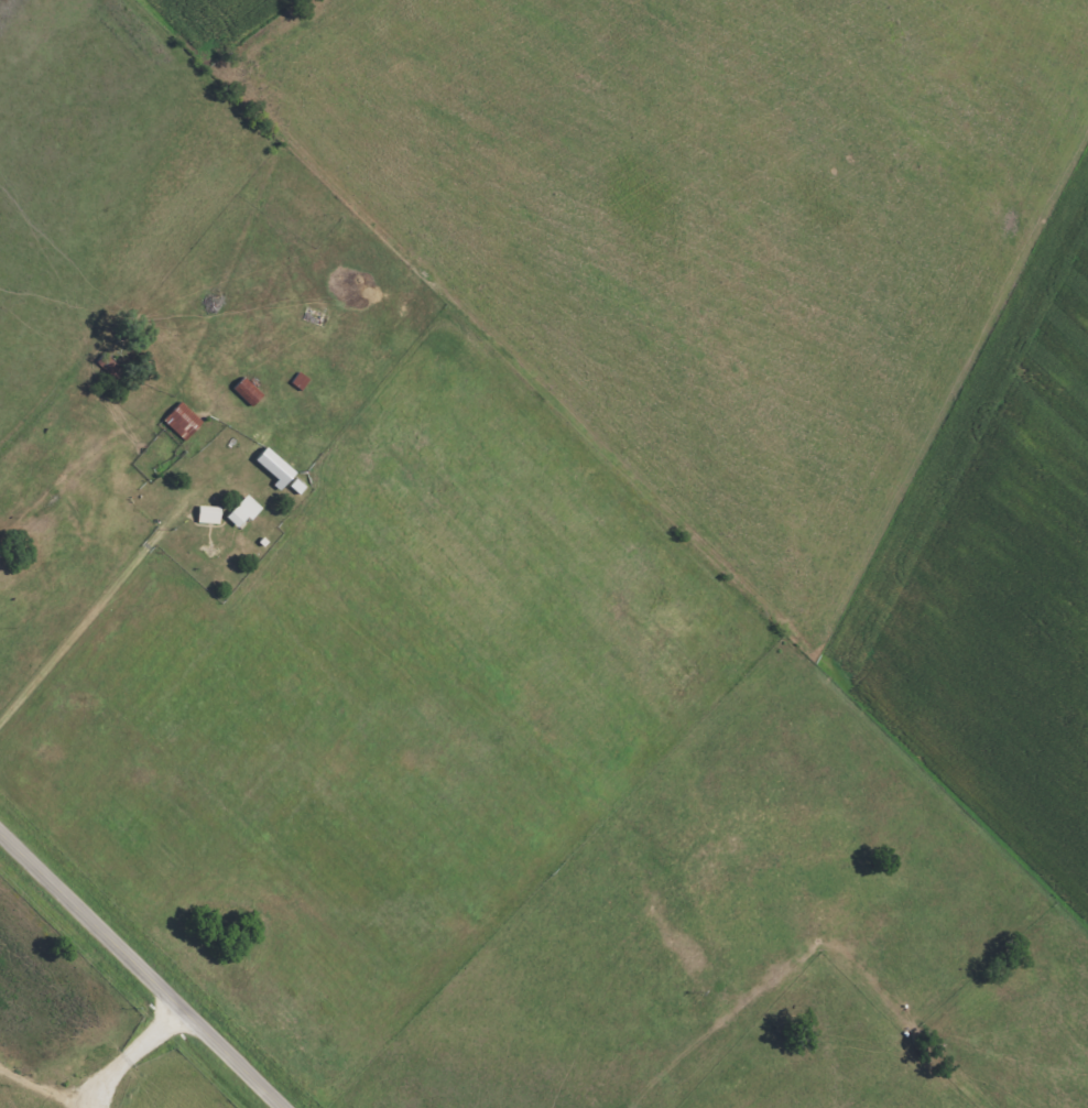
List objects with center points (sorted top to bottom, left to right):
building: (243, 392)
building: (179, 422)
building: (269, 463)
building: (205, 514)
road: (142, 969)

